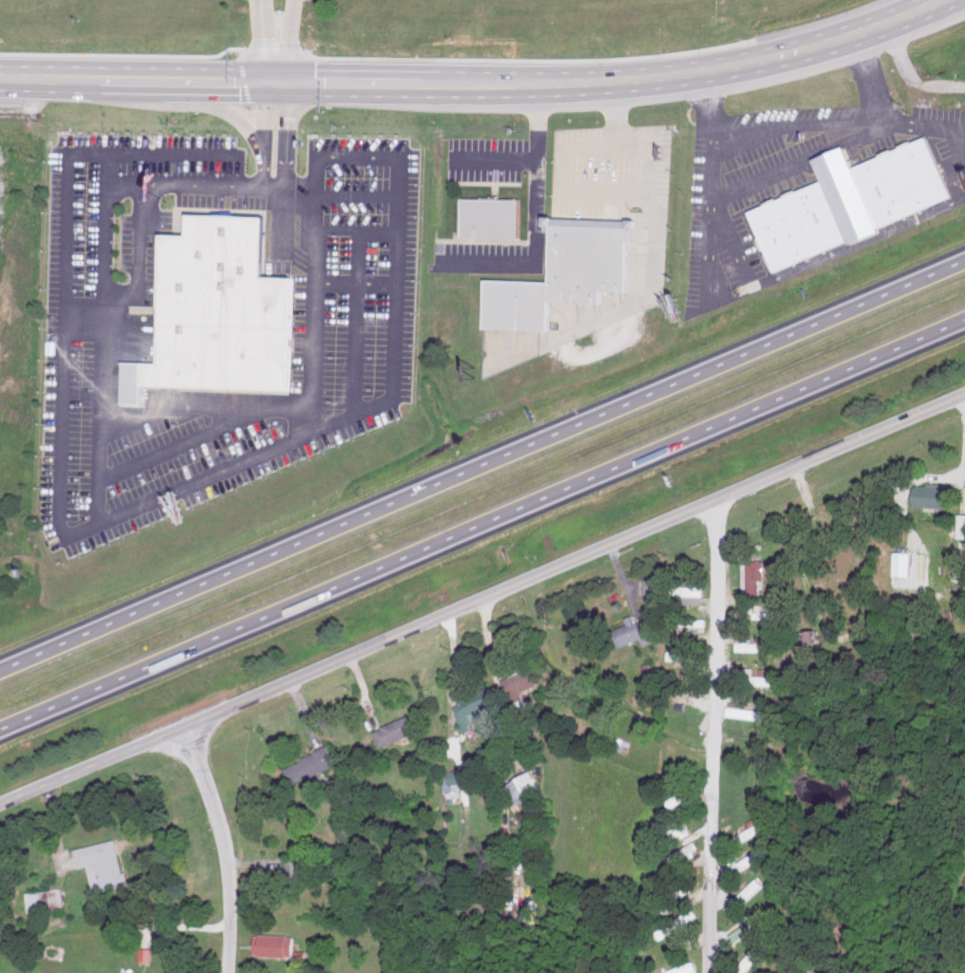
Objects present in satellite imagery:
road: (262, 23)
road: (298, 25)
road: (772, 48)
road: (276, 61)
road: (796, 66)
road: (868, 72)
road: (910, 72)
traffic signals: (275, 82)
road: (309, 82)
road: (708, 98)
road: (217, 105)
road: (263, 117)
road: (289, 133)
road: (728, 137)
road: (361, 154)
road: (538, 178)
road: (189, 184)
road: (262, 184)
building: (852, 204)
building: (494, 220)
building: (567, 276)
road: (315, 294)
building: (224, 310)
road: (482, 465)
building: (934, 495)
road: (125, 513)
road: (481, 525)
building: (962, 525)
building: (904, 562)
building: (924, 564)
building: (753, 575)
building: (655, 589)
building: (687, 590)
road: (482, 599)
building: (754, 614)
building: (636, 631)
building: (816, 636)
building: (748, 643)
building: (686, 655)
building: (754, 677)
building: (521, 681)
building: (763, 703)
building: (477, 707)
building: (748, 711)
building: (401, 728)
road: (712, 737)
building: (312, 764)
building: (453, 783)
building: (526, 787)
building: (677, 831)
building: (744, 835)
road: (227, 846)
building: (682, 852)
building: (747, 860)
building: (104, 864)
building: (677, 887)
building: (745, 895)
building: (46, 899)
building: (752, 923)
building: (678, 924)
road: (158, 926)
building: (277, 944)
building: (749, 959)
building: (685, 968)

